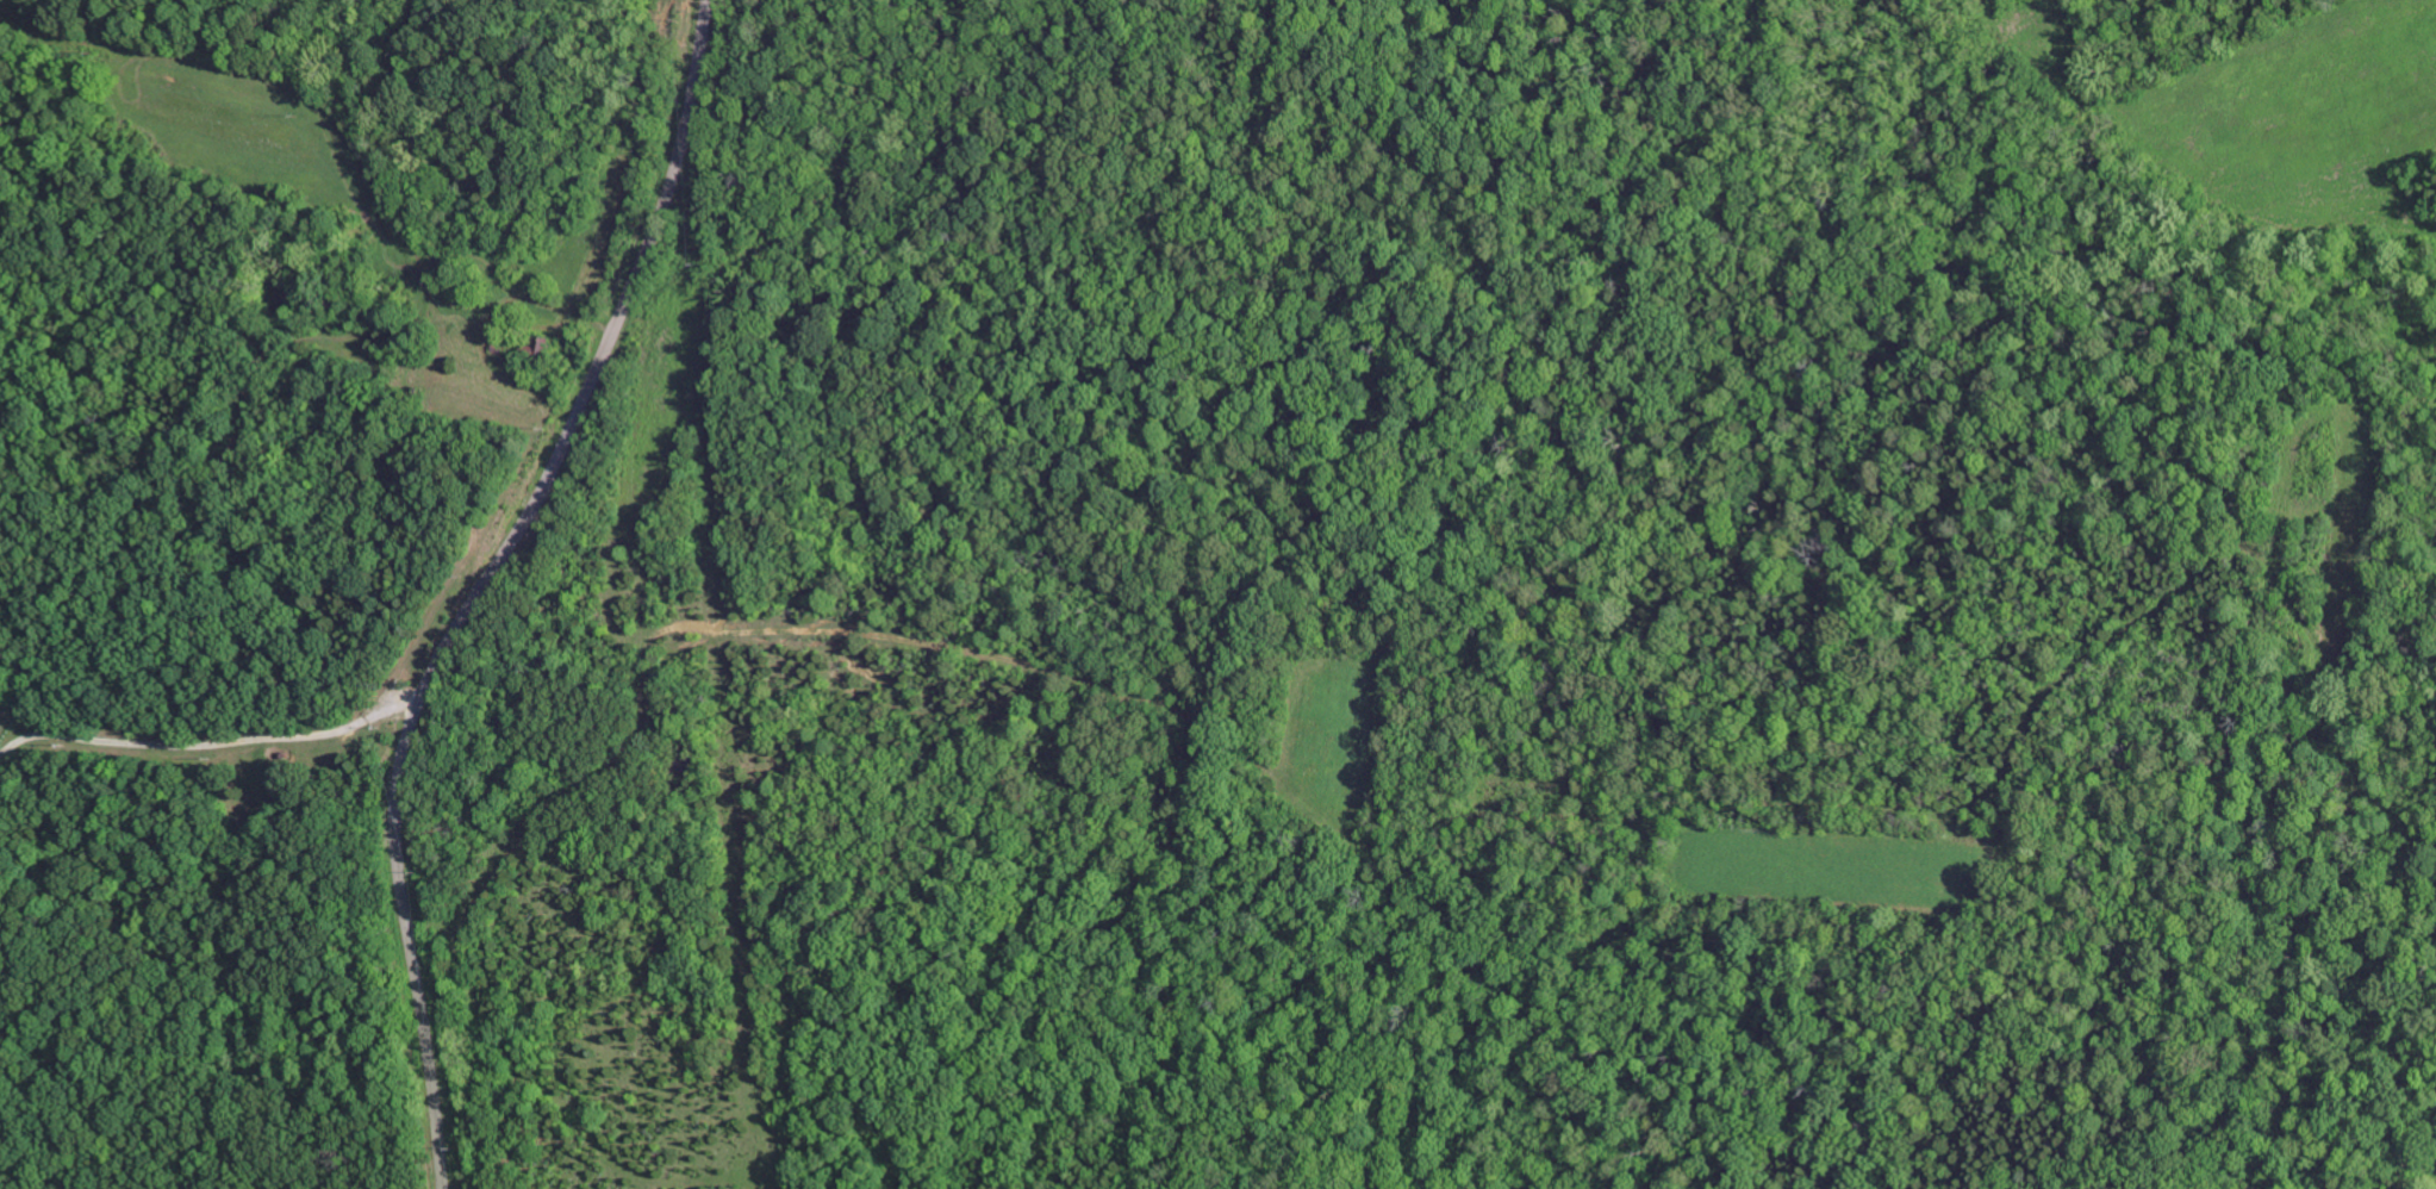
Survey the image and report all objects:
road: (487, 585)

